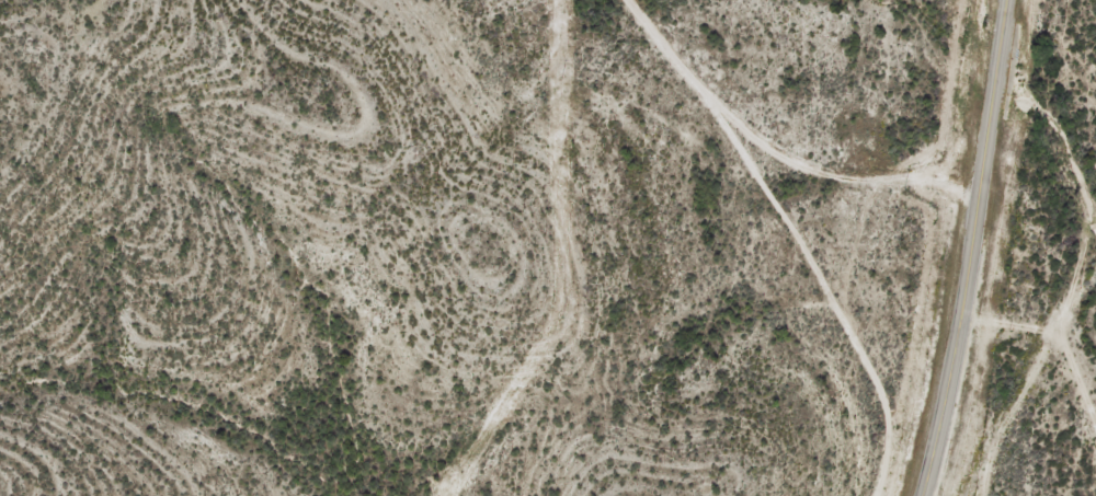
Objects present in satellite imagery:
road: (781, 148)
road: (972, 249)

